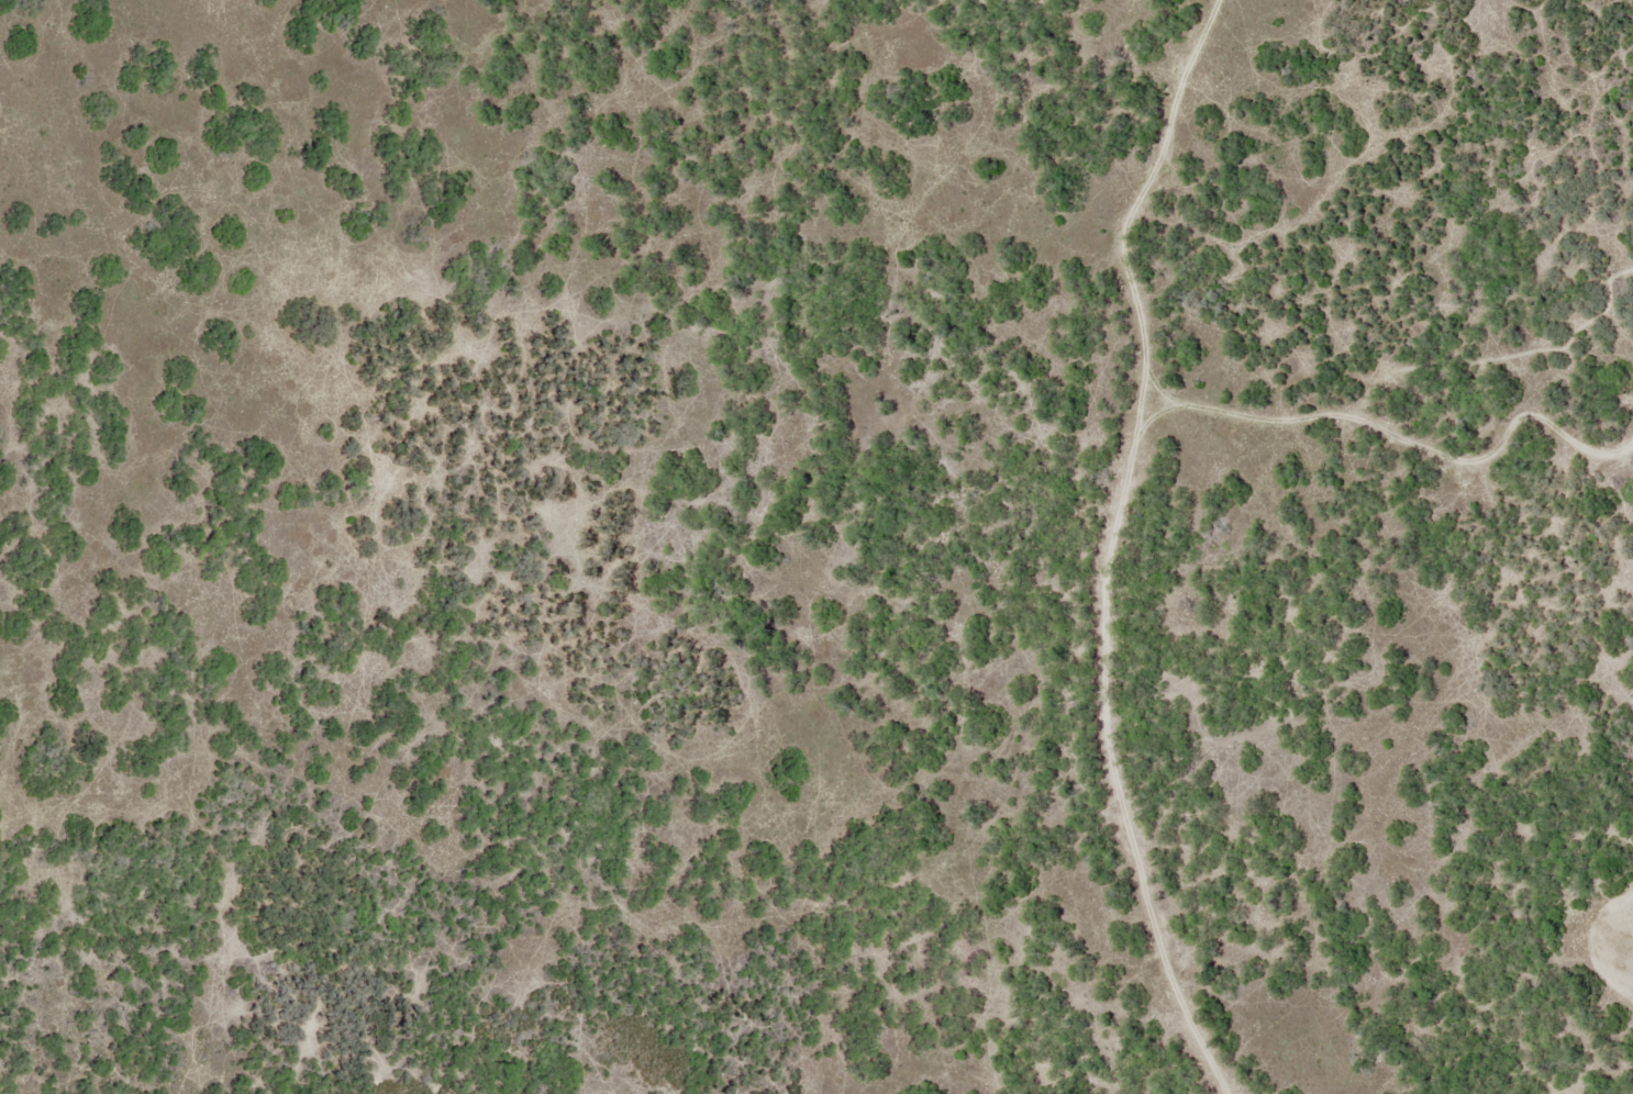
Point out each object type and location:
road: (1154, 539)

